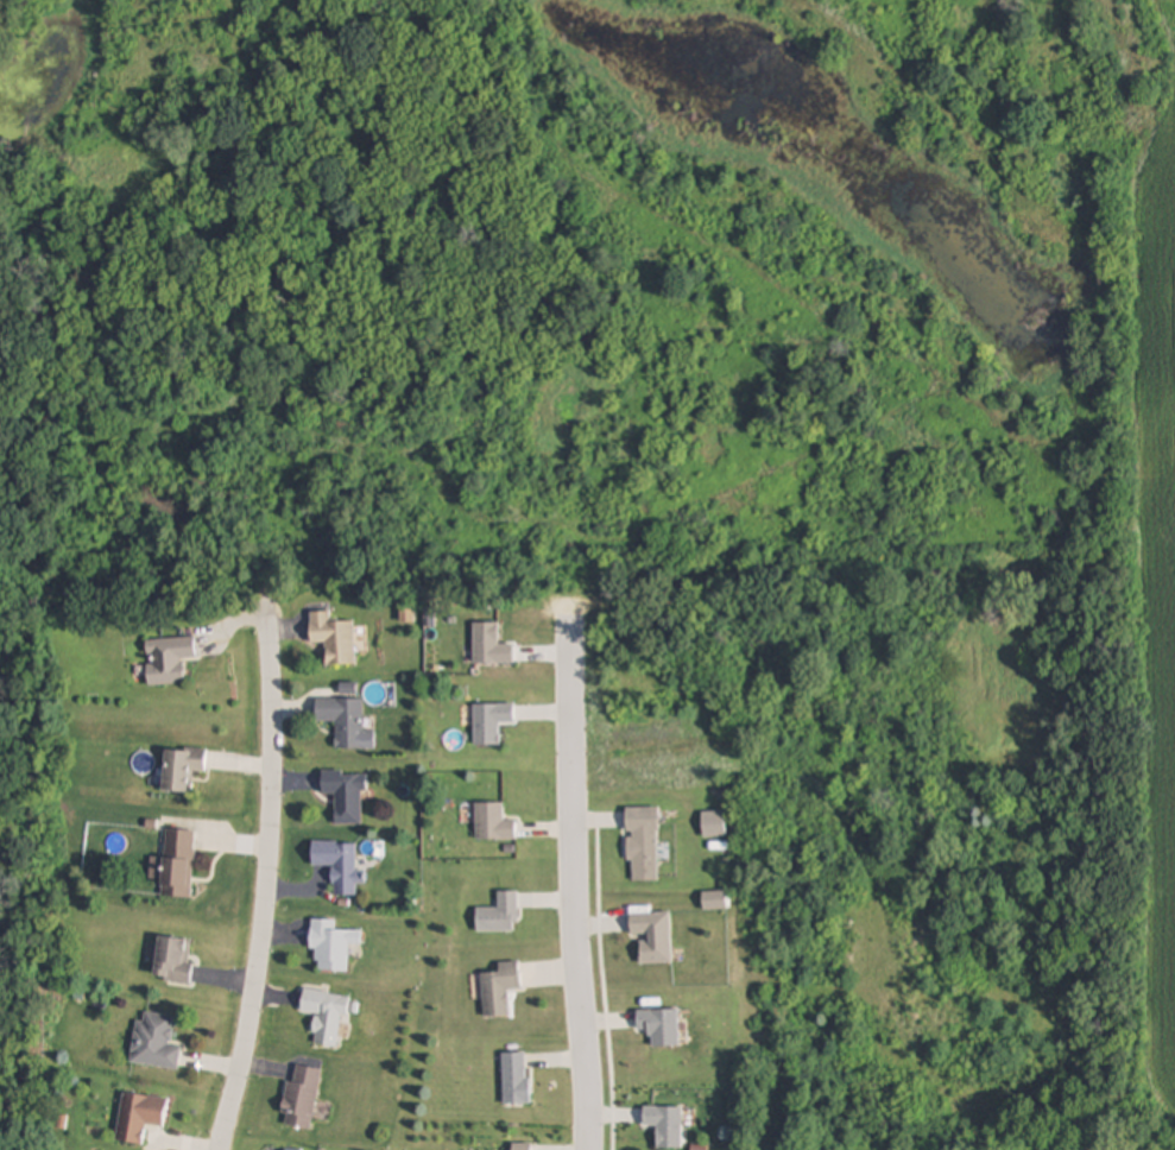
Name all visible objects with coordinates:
park: (549, 317)
building: (334, 639)
building: (169, 662)
building: (347, 722)
building: (183, 769)
building: (346, 796)
building: (643, 843)
building: (176, 864)
building: (339, 865)
road: (255, 872)
road: (575, 886)
building: (499, 915)
building: (653, 935)
building: (331, 946)
building: (175, 959)
building: (499, 990)
building: (326, 1016)
building: (156, 1042)
building: (516, 1079)
building: (301, 1098)
building: (140, 1117)
building: (520, 1146)

